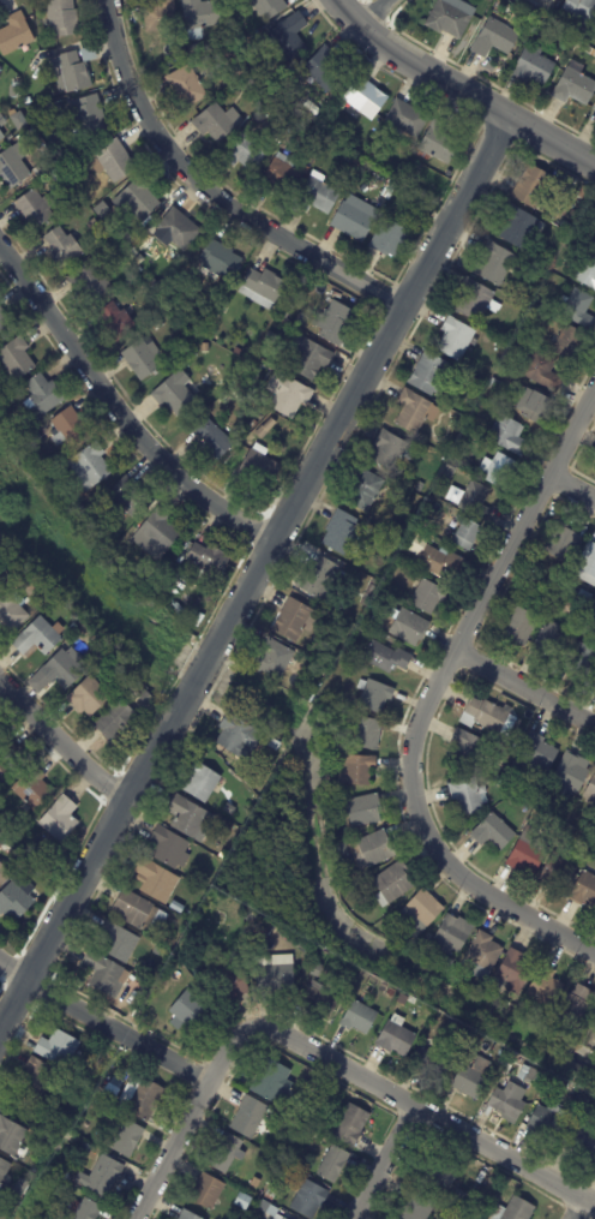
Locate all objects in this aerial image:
building: (549, 1)
building: (269, 7)
road: (373, 13)
building: (581, 13)
building: (200, 16)
building: (62, 17)
building: (161, 17)
building: (451, 18)
building: (534, 30)
building: (551, 30)
building: (16, 34)
building: (292, 36)
building: (234, 38)
building: (495, 38)
building: (89, 54)
building: (534, 68)
building: (0, 70)
building: (325, 70)
building: (71, 73)
building: (250, 80)
building: (186, 86)
building: (575, 88)
road: (461, 89)
building: (275, 92)
building: (363, 100)
building: (26, 101)
building: (594, 109)
building: (88, 118)
building: (408, 119)
building: (1, 121)
building: (216, 124)
building: (1, 137)
building: (439, 144)
building: (31, 147)
building: (80, 148)
building: (246, 149)
building: (371, 153)
building: (345, 157)
building: (113, 161)
building: (357, 161)
building: (14, 165)
building: (41, 168)
building: (306, 169)
building: (59, 173)
building: (282, 175)
building: (411, 180)
building: (533, 185)
building: (391, 187)
building: (426, 190)
building: (398, 192)
road: (209, 193)
building: (584, 193)
building: (318, 196)
building: (138, 199)
building: (36, 209)
building: (573, 214)
building: (355, 217)
building: (521, 226)
building: (566, 226)
building: (179, 229)
building: (392, 239)
building: (110, 245)
building: (126, 246)
building: (64, 247)
building: (548, 256)
building: (167, 257)
building: (220, 261)
building: (495, 263)
building: (588, 271)
building: (537, 273)
building: (92, 281)
building: (264, 286)
building: (156, 287)
building: (475, 299)
building: (547, 305)
building: (578, 307)
building: (284, 313)
building: (543, 313)
building: (300, 318)
building: (149, 322)
building: (335, 323)
building: (118, 324)
building: (5, 325)
building: (157, 325)
building: (271, 337)
building: (456, 337)
building: (570, 342)
building: (205, 348)
building: (242, 354)
building: (309, 357)
building: (17, 359)
building: (143, 359)
building: (504, 361)
building: (543, 370)
building: (429, 374)
road: (360, 382)
building: (475, 382)
building: (494, 383)
building: (491, 392)
building: (173, 394)
building: (44, 395)
building: (289, 395)
building: (534, 405)
building: (246, 406)
building: (414, 411)
road: (116, 412)
building: (28, 426)
building: (71, 428)
building: (264, 429)
building: (509, 435)
building: (34, 438)
building: (214, 441)
building: (451, 443)
building: (392, 449)
building: (90, 467)
building: (259, 468)
building: (499, 471)
building: (449, 472)
building: (420, 486)
road: (571, 486)
building: (365, 490)
building: (130, 497)
building: (476, 500)
building: (161, 532)
building: (343, 532)
building: (468, 533)
building: (565, 543)
building: (210, 560)
building: (437, 560)
building: (588, 563)
building: (317, 576)
building: (152, 578)
building: (0, 590)
building: (371, 593)
building: (428, 597)
building: (585, 597)
building: (564, 605)
building: (178, 610)
building: (11, 616)
building: (295, 620)
building: (519, 626)
building: (73, 627)
building: (410, 627)
building: (38, 639)
building: (549, 643)
building: (100, 656)
building: (275, 657)
building: (387, 657)
building: (582, 659)
road: (200, 667)
building: (319, 671)
building: (59, 673)
building: (594, 682)
road: (524, 688)
building: (375, 697)
road: (428, 697)
building: (89, 698)
building: (146, 699)
building: (485, 715)
building: (517, 721)
building: (116, 722)
building: (367, 734)
building: (239, 736)
building: (509, 737)
road: (60, 743)
building: (277, 743)
building: (469, 748)
building: (540, 752)
building: (7, 765)
building: (356, 769)
building: (572, 772)
building: (501, 778)
building: (203, 782)
building: (591, 790)
building: (34, 791)
building: (469, 795)
building: (229, 808)
building: (366, 809)
building: (559, 814)
building: (188, 817)
building: (60, 821)
building: (1, 832)
building: (493, 832)
building: (170, 848)
building: (343, 848)
building: (378, 848)
building: (19, 853)
road: (94, 854)
building: (222, 854)
building: (527, 856)
building: (214, 864)
building: (558, 871)
building: (4, 877)
building: (156, 880)
building: (392, 885)
building: (584, 890)
building: (17, 898)
building: (178, 907)
building: (422, 912)
building: (139, 914)
building: (253, 922)
building: (387, 925)
building: (453, 933)
building: (118, 942)
building: (302, 945)
building: (425, 948)
building: (313, 950)
building: (483, 957)
building: (449, 962)
building: (317, 970)
building: (516, 970)
building: (103, 972)
building: (276, 973)
building: (198, 974)
building: (230, 984)
building: (547, 987)
building: (143, 991)
building: (365, 997)
building: (390, 997)
building: (321, 999)
building: (413, 999)
building: (576, 1008)
building: (188, 1012)
building: (360, 1017)
road: (103, 1022)
building: (397, 1036)
building: (480, 1038)
building: (594, 1039)
building: (59, 1048)
road: (324, 1058)
building: (431, 1065)
building: (38, 1075)
building: (530, 1075)
building: (543, 1076)
building: (501, 1077)
building: (473, 1078)
building: (272, 1081)
building: (112, 1093)
building: (142, 1098)
building: (510, 1100)
building: (587, 1104)
building: (572, 1110)
building: (250, 1117)
building: (546, 1119)
building: (350, 1124)
building: (286, 1135)
building: (11, 1136)
building: (581, 1141)
building: (134, 1142)
building: (79, 1145)
building: (227, 1153)
road: (381, 1161)
building: (333, 1164)
building: (4, 1170)
building: (441, 1175)
building: (102, 1176)
building: (20, 1188)
building: (208, 1191)
building: (271, 1195)
building: (308, 1197)
building: (244, 1201)
building: (459, 1201)
building: (419, 1206)
road: (573, 1207)
building: (86, 1209)
building: (270, 1209)
building: (515, 1211)
building: (187, 1215)
building: (471, 1218)

